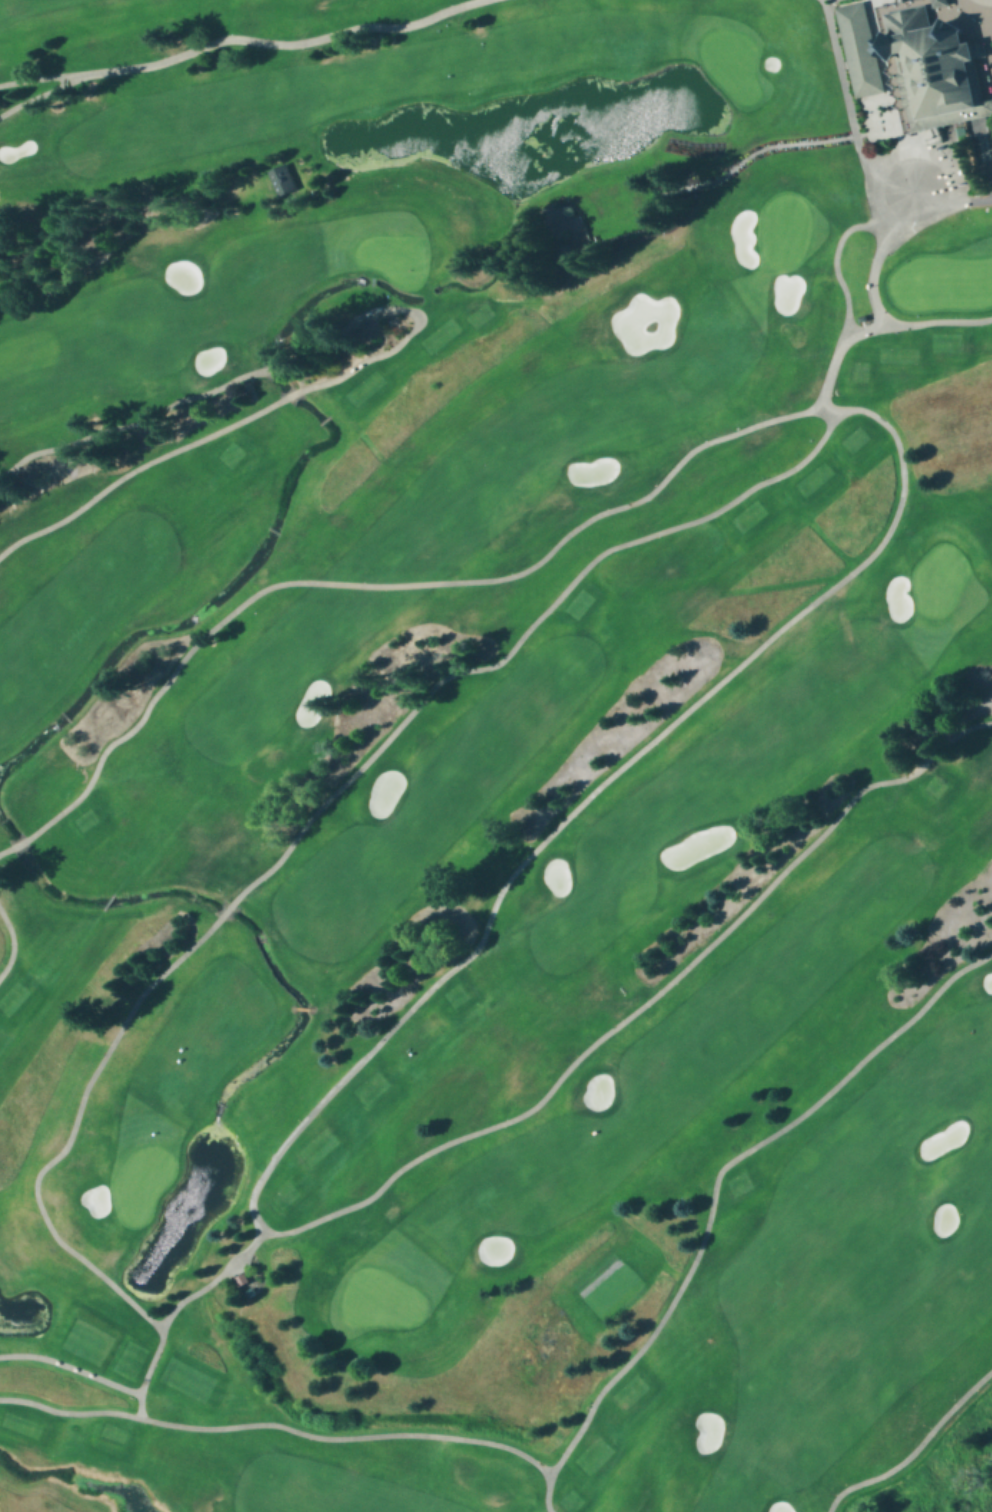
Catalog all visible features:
building: (940, 2)
road: (978, 10)
road: (238, 37)
building: (859, 47)
building: (935, 66)
road: (844, 90)
road: (40, 93)
road: (763, 147)
road: (985, 153)
building: (284, 183)
road: (949, 189)
road: (885, 225)
building: (564, 253)
road: (415, 315)
road: (936, 319)
road: (275, 363)
road: (290, 394)
road: (826, 408)
road: (130, 422)
road: (134, 467)
road: (560, 539)
park: (496, 756)
road: (548, 834)
road: (19, 841)
road: (5, 849)
road: (226, 909)
road: (12, 942)
road: (45, 1219)
road: (213, 1278)
road: (139, 1402)
road: (588, 1412)
road: (915, 1448)
road: (545, 1491)

